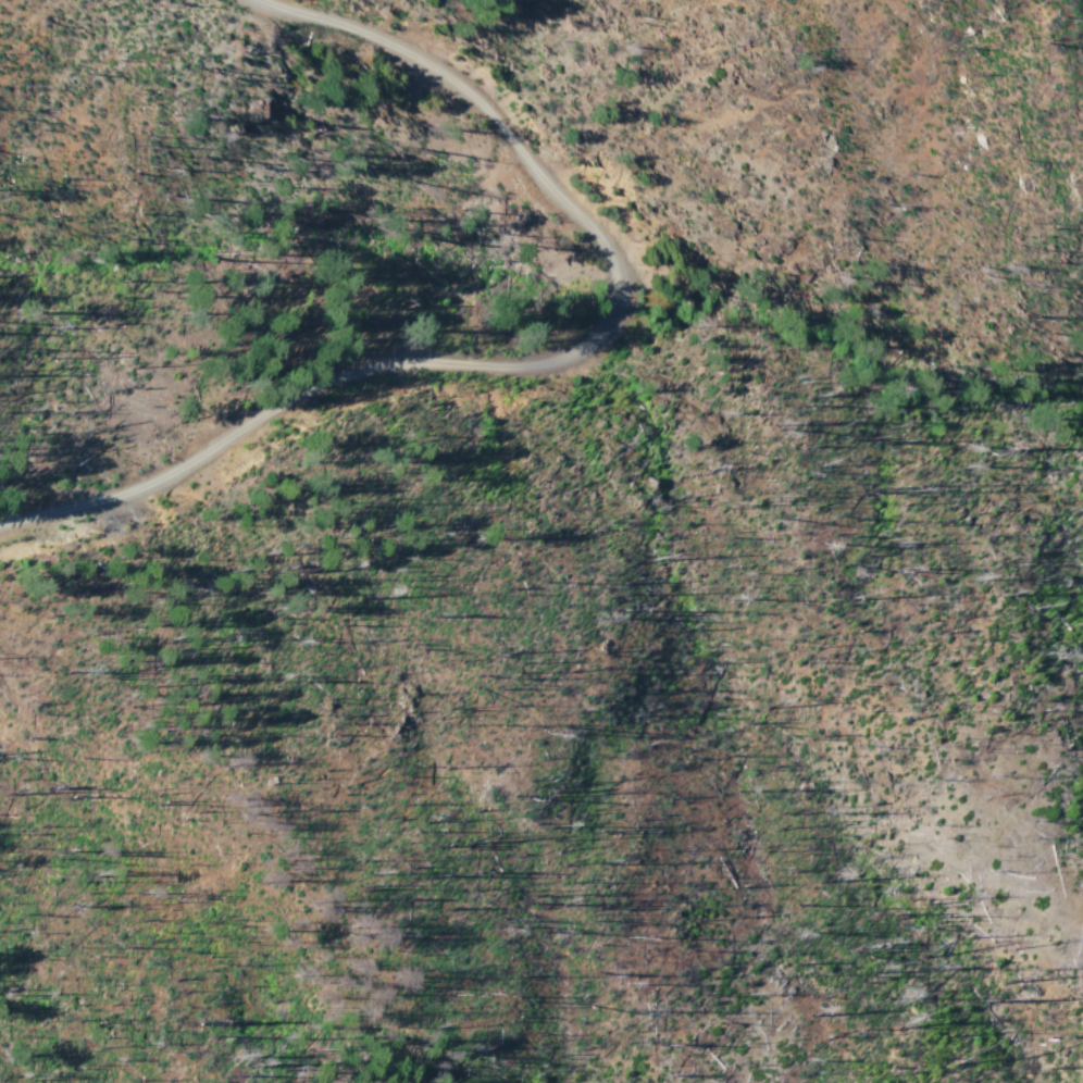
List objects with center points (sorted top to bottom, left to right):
road: (605, 316)

